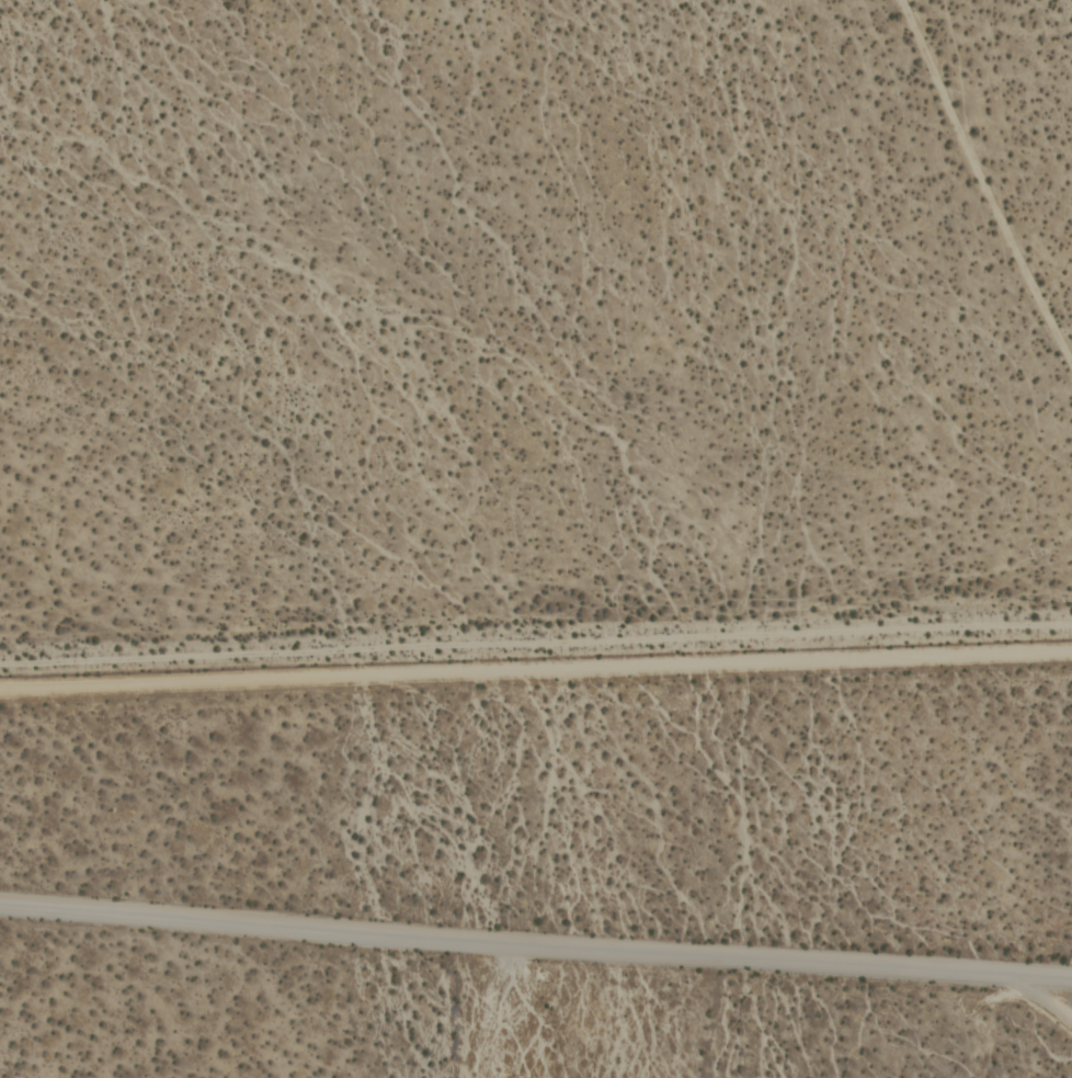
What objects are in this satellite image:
road: (536, 655)
airport: (544, 869)
road: (536, 940)
road: (1040, 997)

